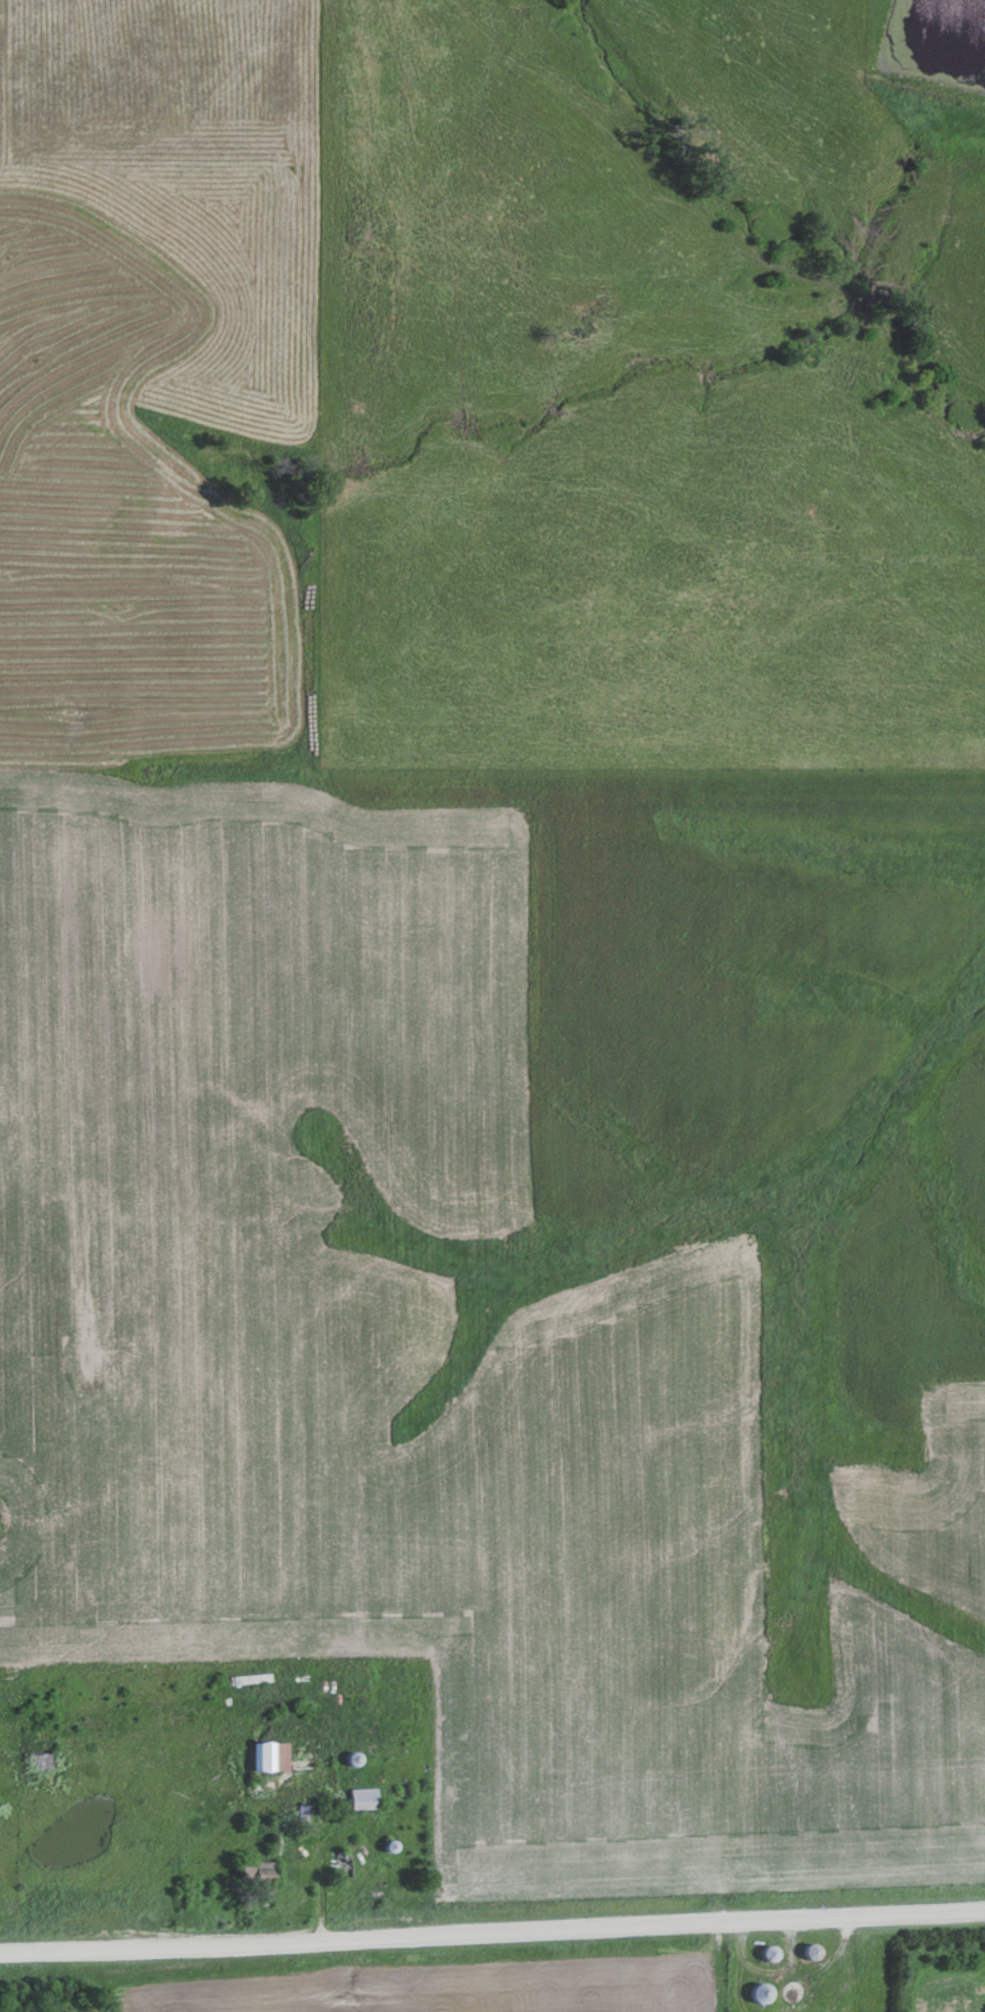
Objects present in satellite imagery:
building: (245, 1677)
building: (265, 1755)
building: (34, 1758)
building: (344, 1760)
building: (358, 1797)
building: (252, 1870)
road: (492, 1932)
building: (761, 1952)
building: (753, 1991)

